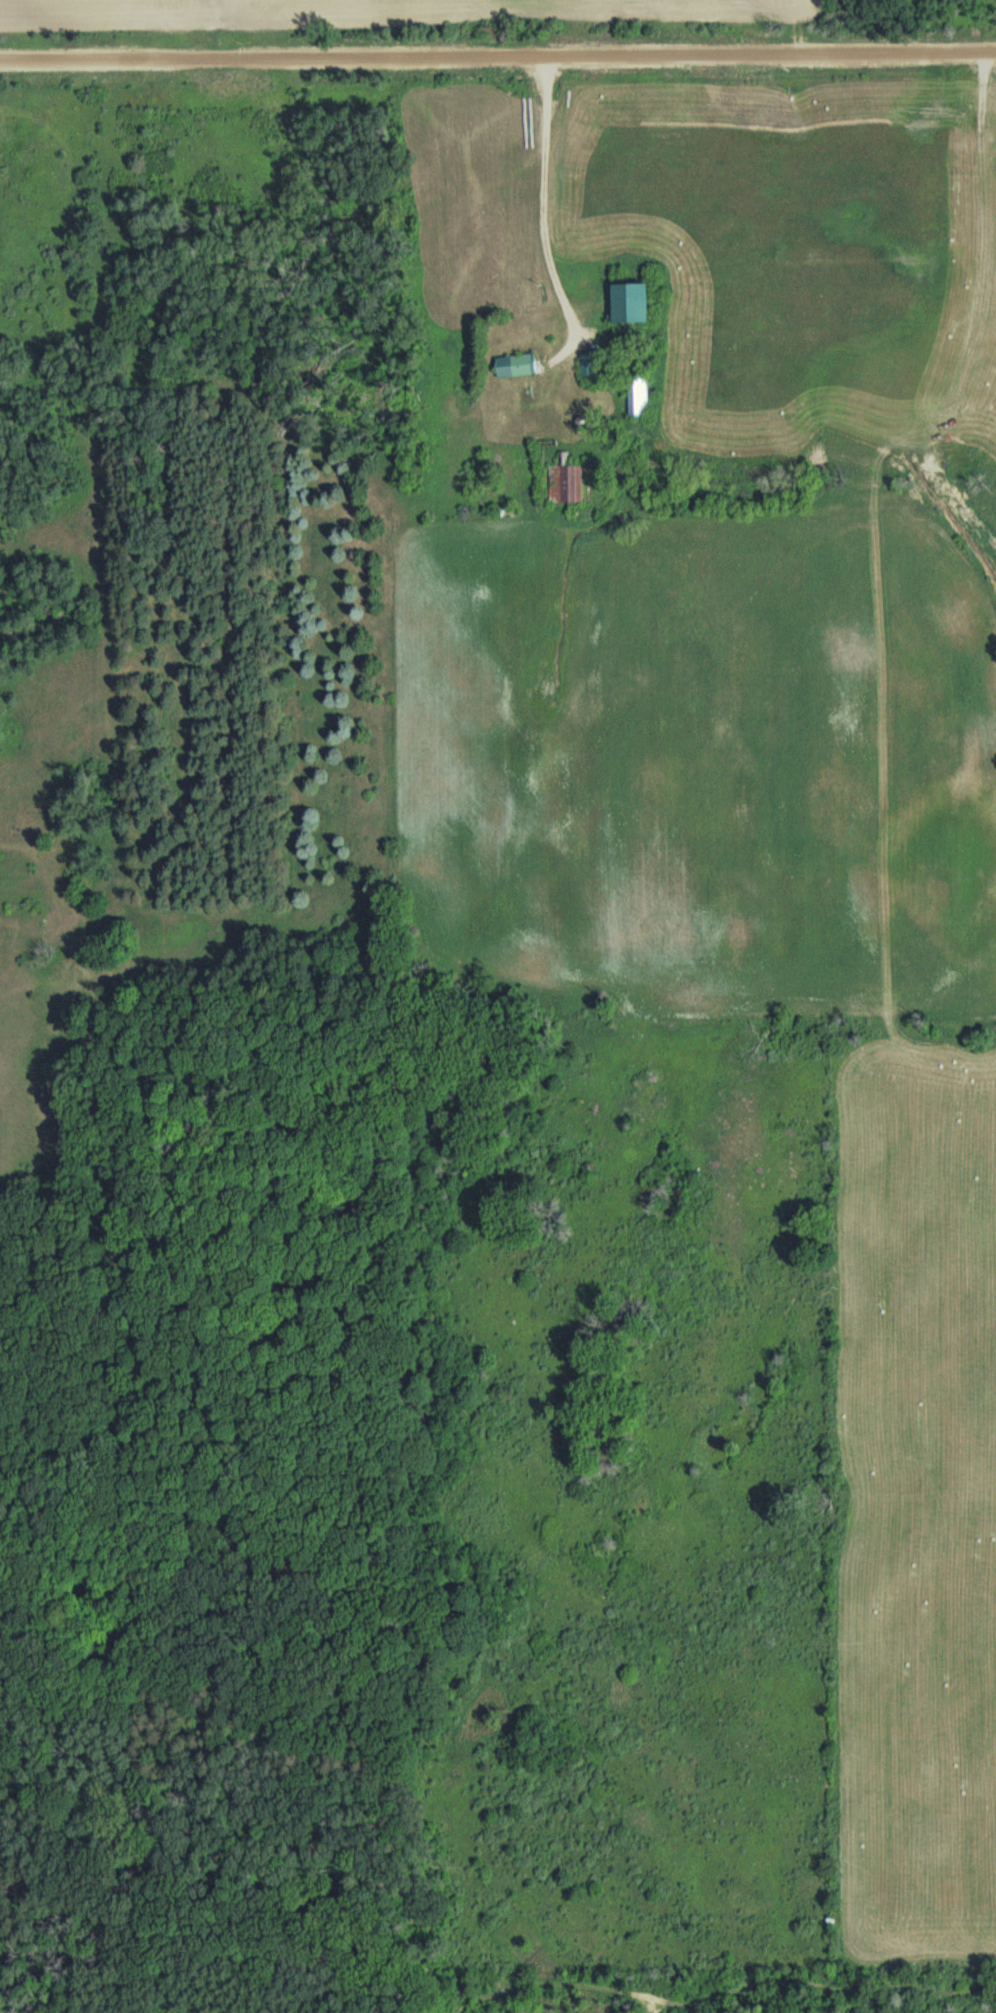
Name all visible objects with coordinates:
road: (498, 55)
building: (634, 303)
building: (591, 365)
building: (518, 366)

